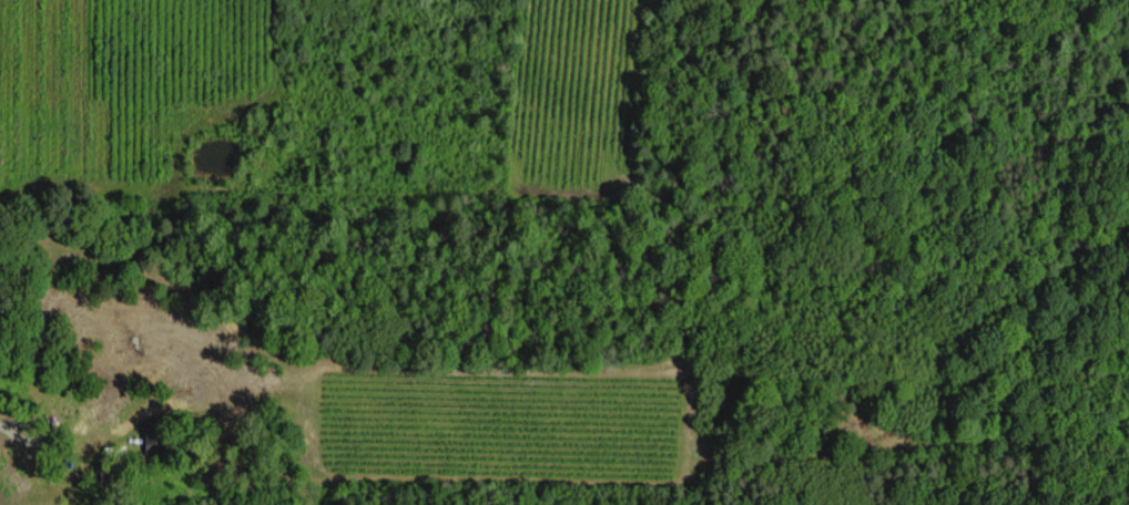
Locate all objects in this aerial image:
road: (22, 435)

